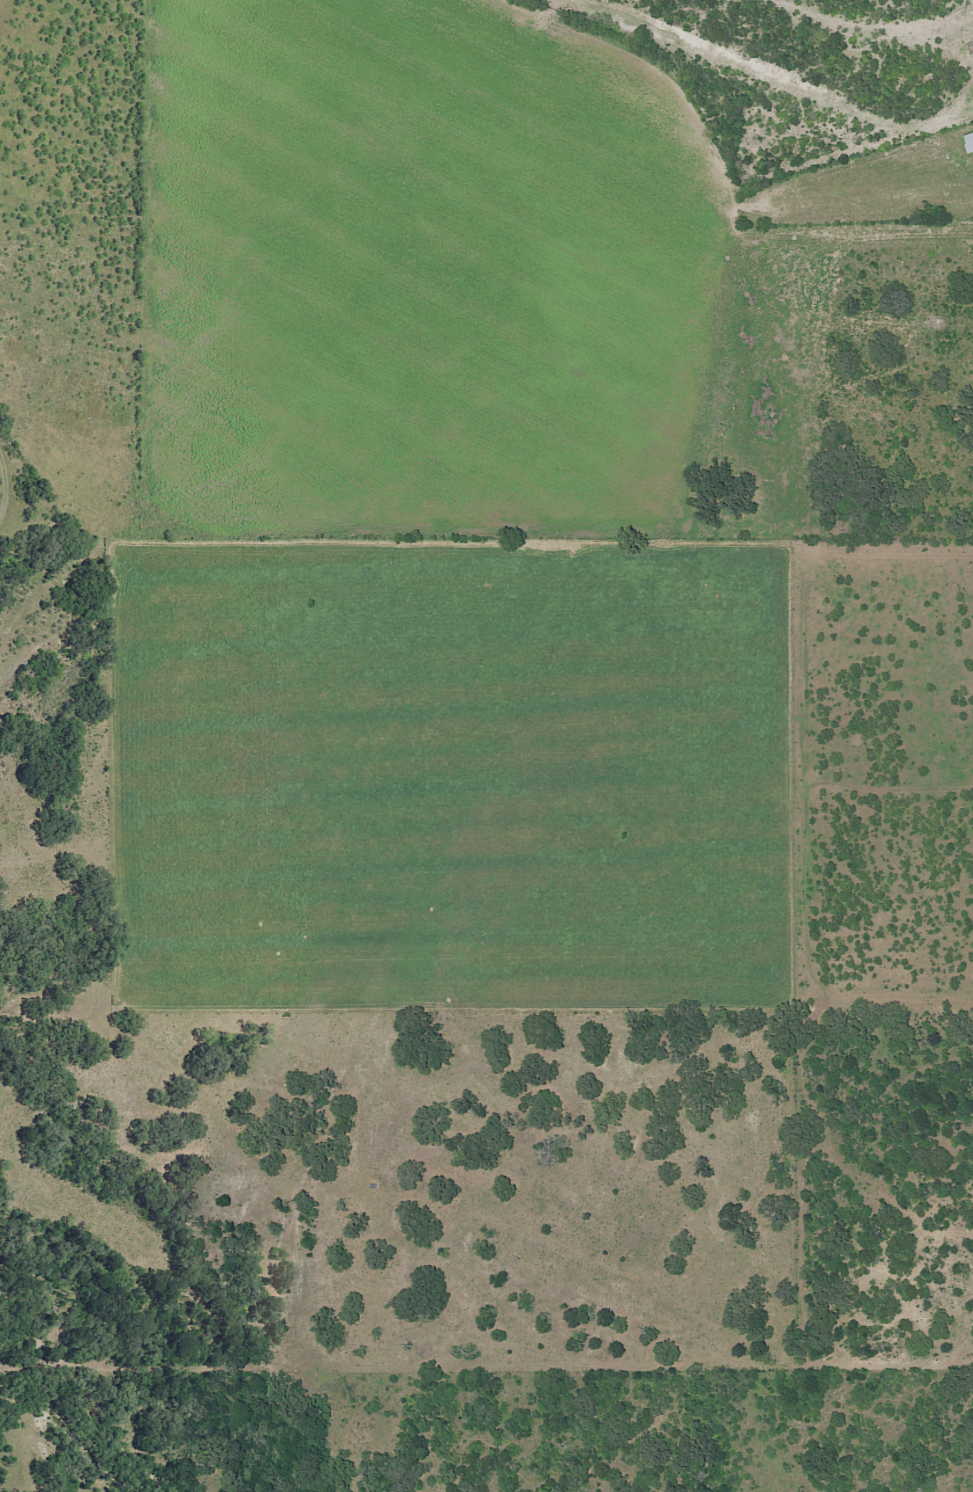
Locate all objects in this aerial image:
building: (970, 140)

